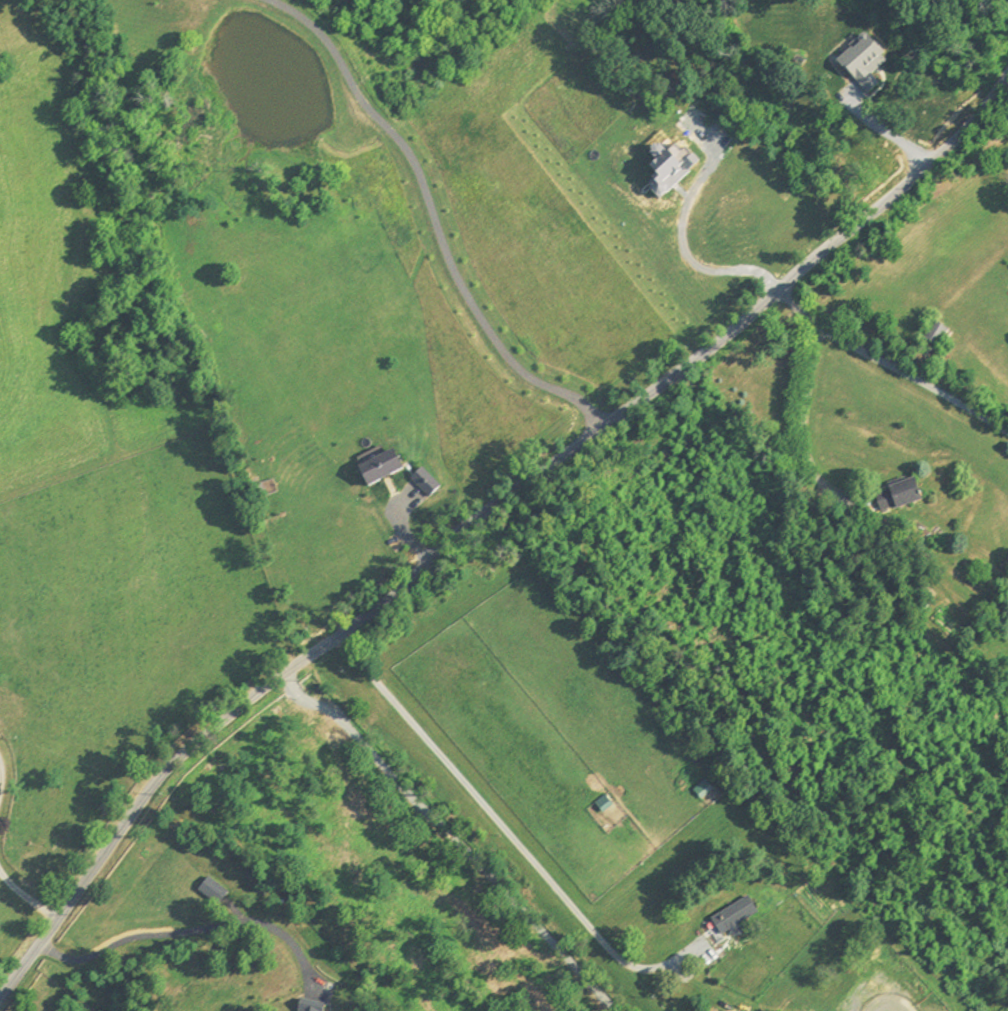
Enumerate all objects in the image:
building: (863, 64)
road: (887, 133)
road: (434, 216)
road: (709, 267)
building: (936, 336)
road: (892, 367)
road: (802, 421)
building: (898, 499)
road: (482, 513)
building: (702, 786)
road: (507, 828)
road: (27, 897)
building: (736, 915)
road: (191, 931)

